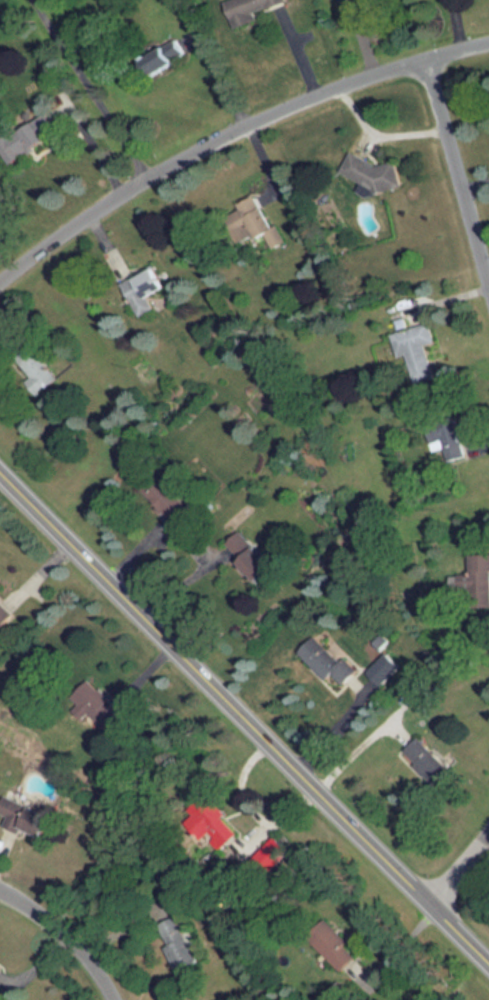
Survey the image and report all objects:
building: (340, 0)
building: (249, 8)
building: (161, 62)
road: (222, 79)
road: (89, 88)
building: (41, 126)
road: (228, 132)
road: (457, 159)
building: (376, 175)
building: (253, 222)
building: (144, 288)
building: (416, 350)
building: (34, 368)
building: (446, 438)
building: (169, 505)
building: (249, 555)
building: (476, 580)
building: (6, 615)
building: (328, 657)
building: (384, 664)
building: (95, 705)
road: (245, 709)
building: (427, 760)
building: (26, 818)
building: (214, 821)
road: (464, 871)
road: (69, 933)
building: (334, 939)
road: (403, 943)
building: (177, 944)
building: (1, 967)

